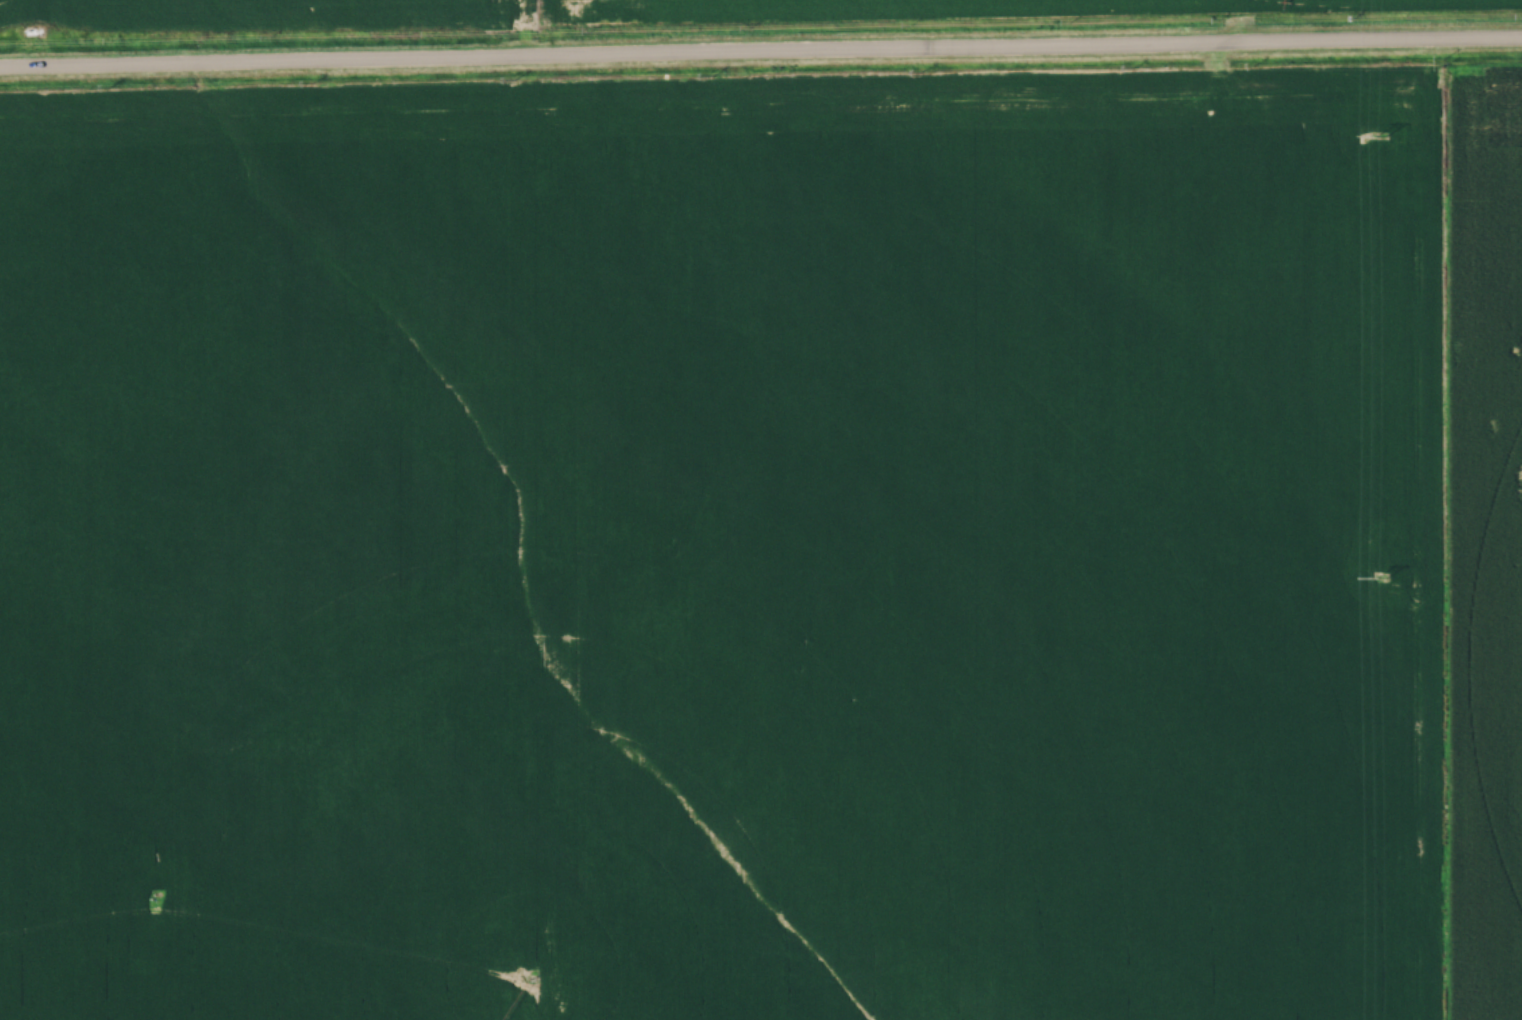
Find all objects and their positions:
road: (760, 58)
power tower: (1381, 136)
power tower: (1379, 577)

